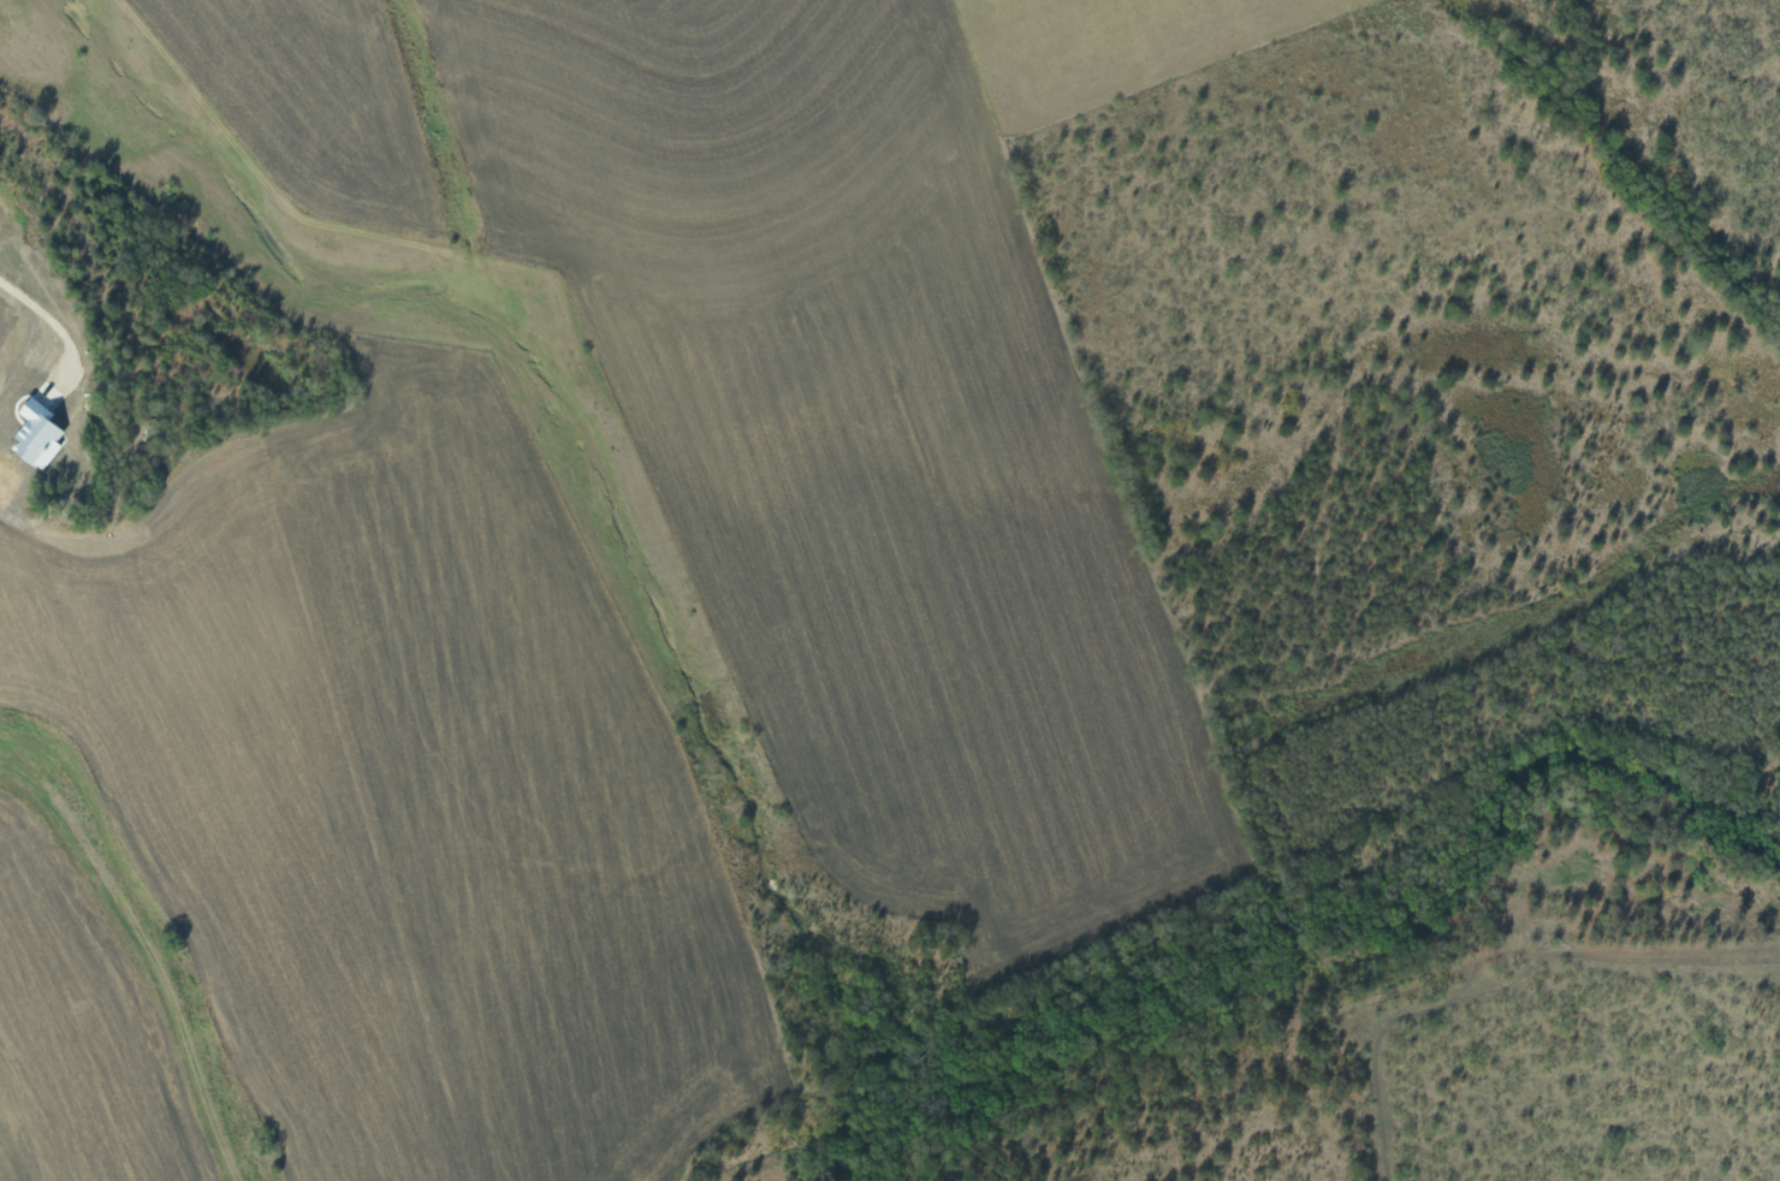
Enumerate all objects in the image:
road: (64, 337)
building: (37, 435)

